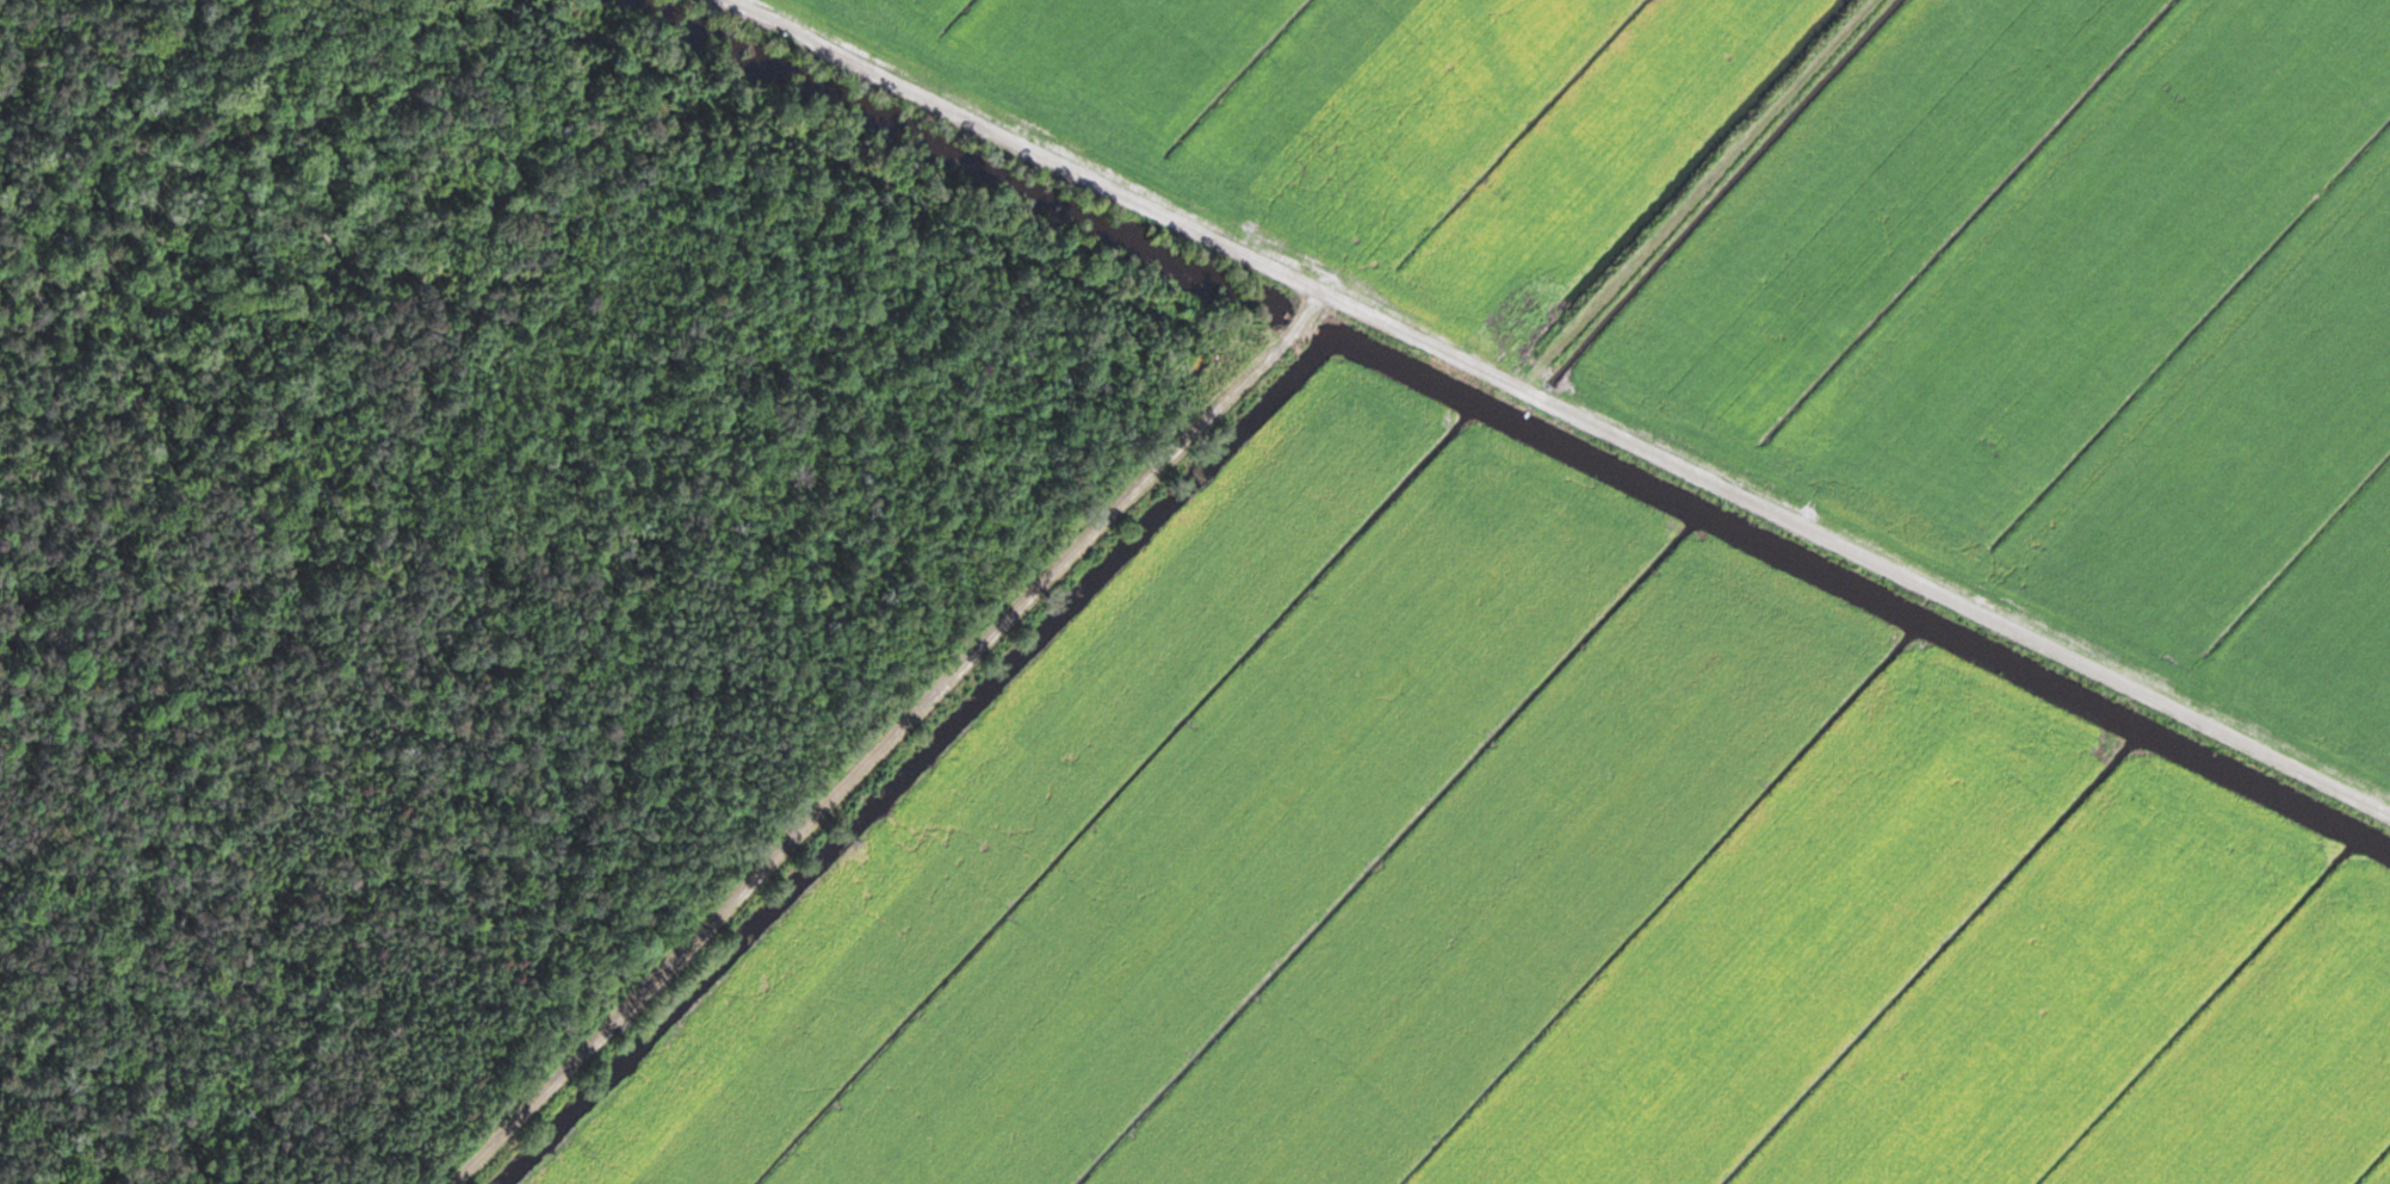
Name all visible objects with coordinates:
crop: (1380, 113)
road: (1699, 194)
crop: (2076, 329)
road: (1555, 405)
road: (884, 738)
crop: (1522, 888)

